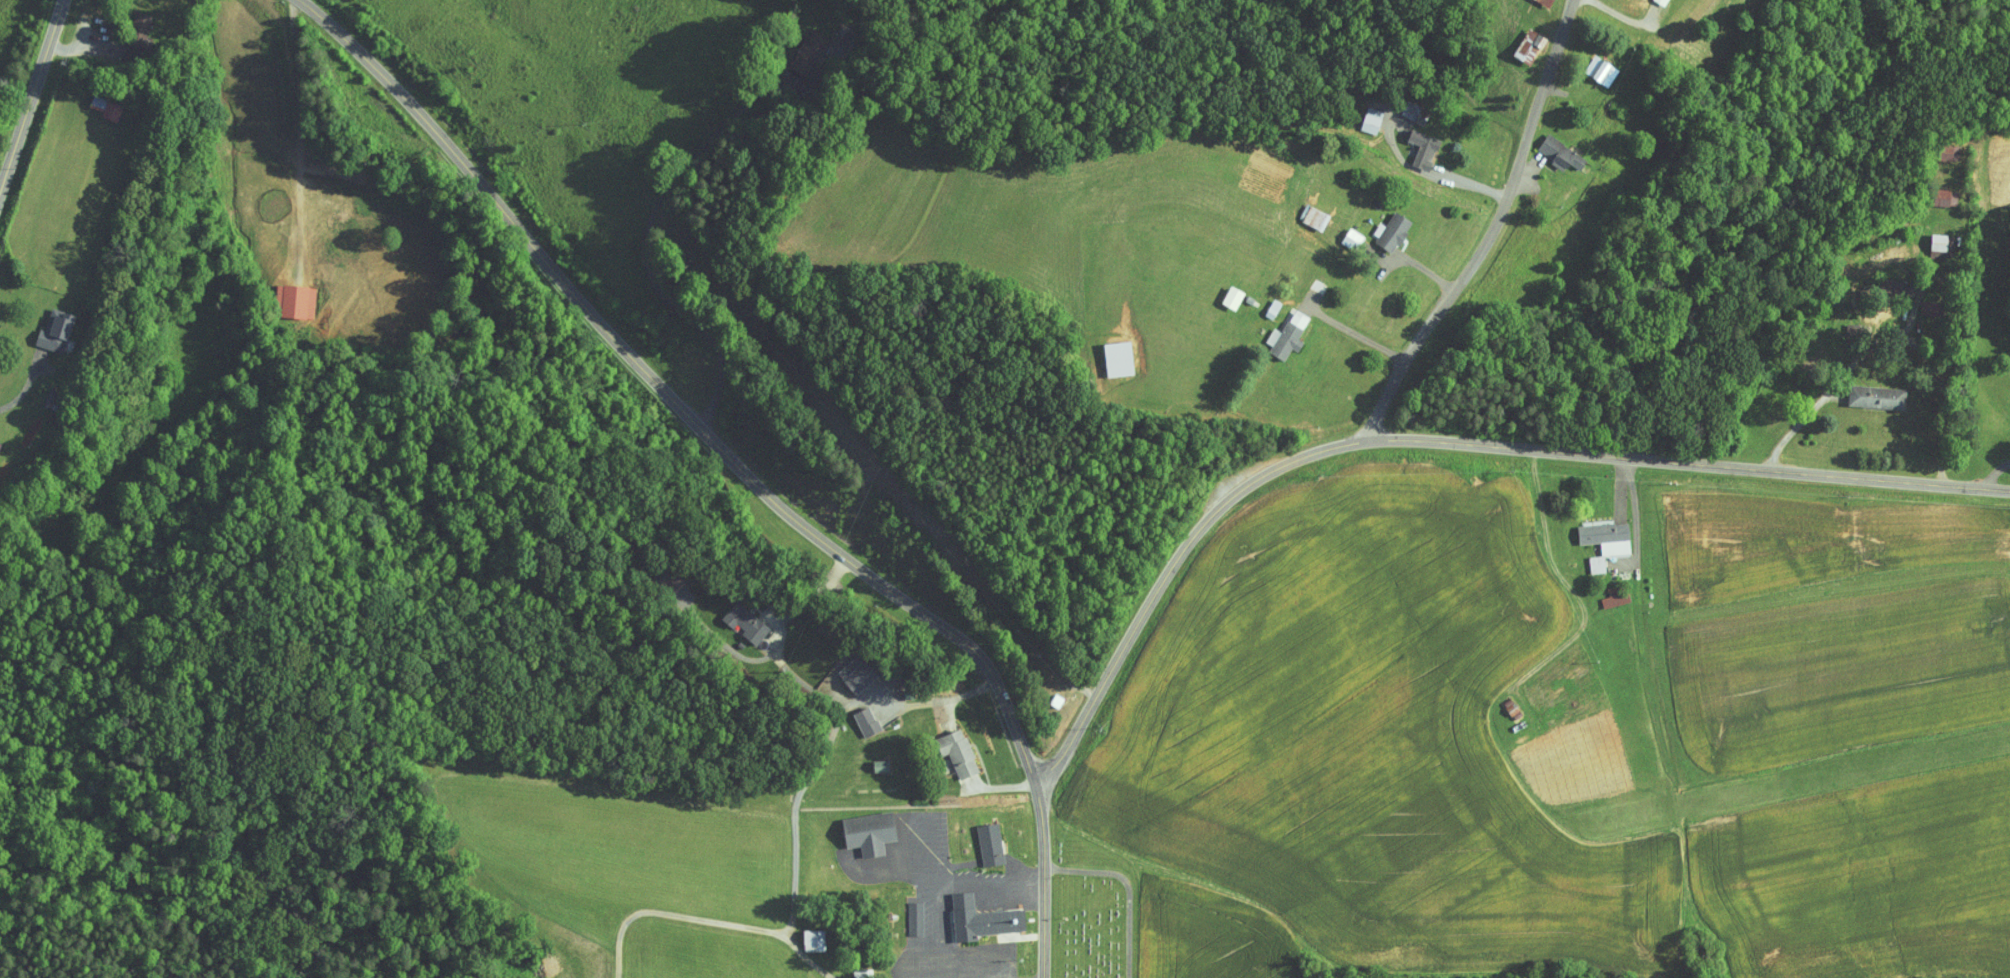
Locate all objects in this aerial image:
building: (1534, 0)
building: (124, 18)
building: (1512, 39)
building: (794, 46)
building: (1586, 64)
road: (32, 98)
building: (90, 101)
building: (1396, 104)
building: (1357, 114)
building: (1407, 143)
building: (1545, 146)
building: (1935, 146)
building: (1930, 191)
road: (497, 202)
road: (657, 211)
building: (1379, 225)
building: (1338, 233)
road: (1493, 233)
building: (1927, 238)
building: (1879, 280)
building: (1216, 291)
building: (282, 295)
building: (1911, 301)
building: (40, 326)
building: (1272, 329)
road: (1356, 333)
building: (1102, 352)
road: (23, 389)
building: (1862, 390)
road: (1440, 441)
building: (1592, 531)
building: (1582, 558)
building: (657, 571)
building: (1602, 592)
road: (1575, 593)
building: (729, 616)
road: (949, 633)
building: (839, 670)
building: (851, 715)
building: (942, 746)
road: (829, 748)
building: (957, 774)
building: (852, 827)
building: (975, 839)
road: (931, 852)
road: (886, 874)
road: (995, 888)
building: (901, 912)
building: (965, 913)
road: (942, 918)
road: (709, 920)
building: (797, 934)
road: (957, 949)

